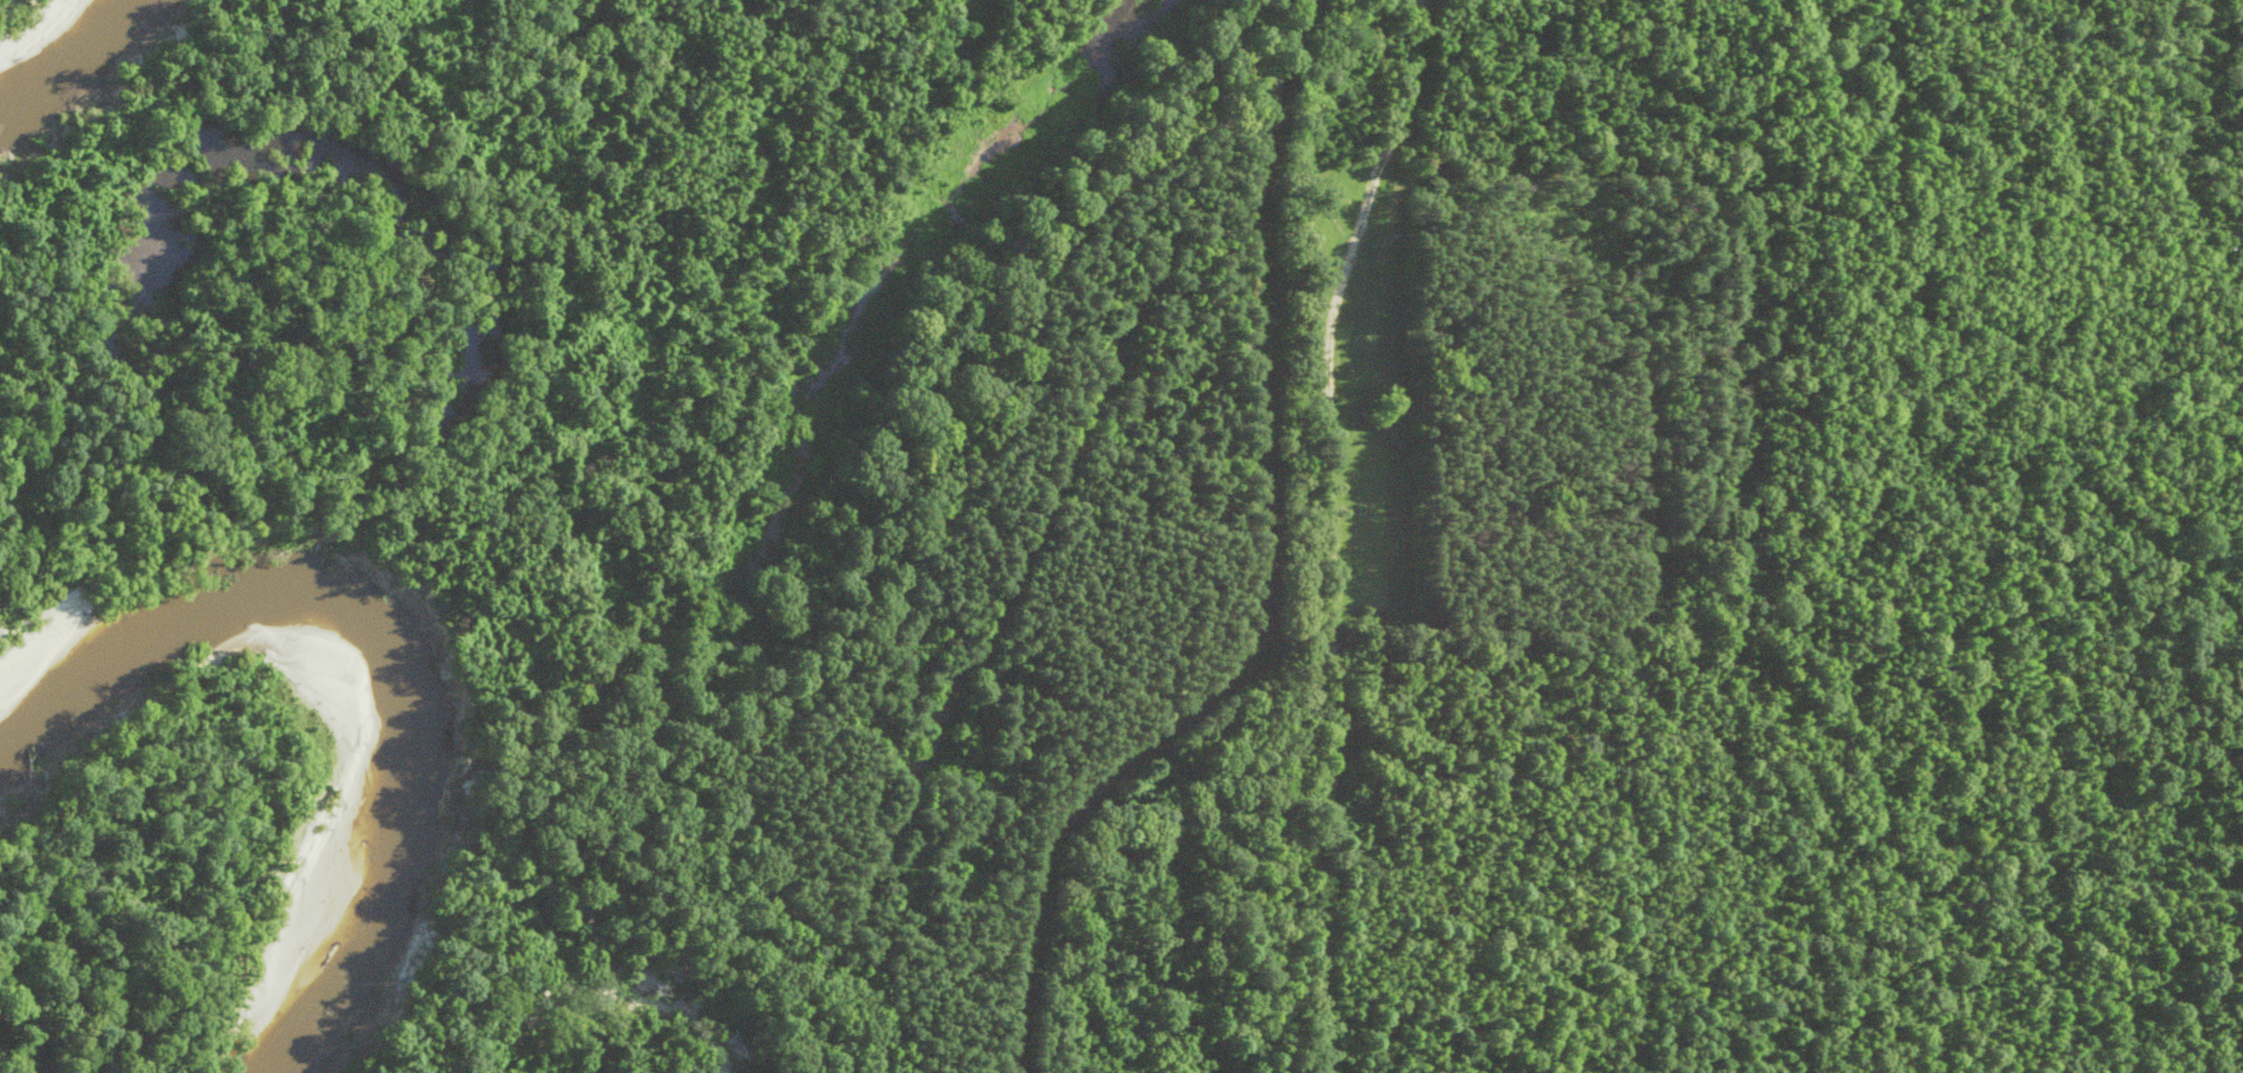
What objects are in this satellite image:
river: (36, 27)
river: (344, 689)

